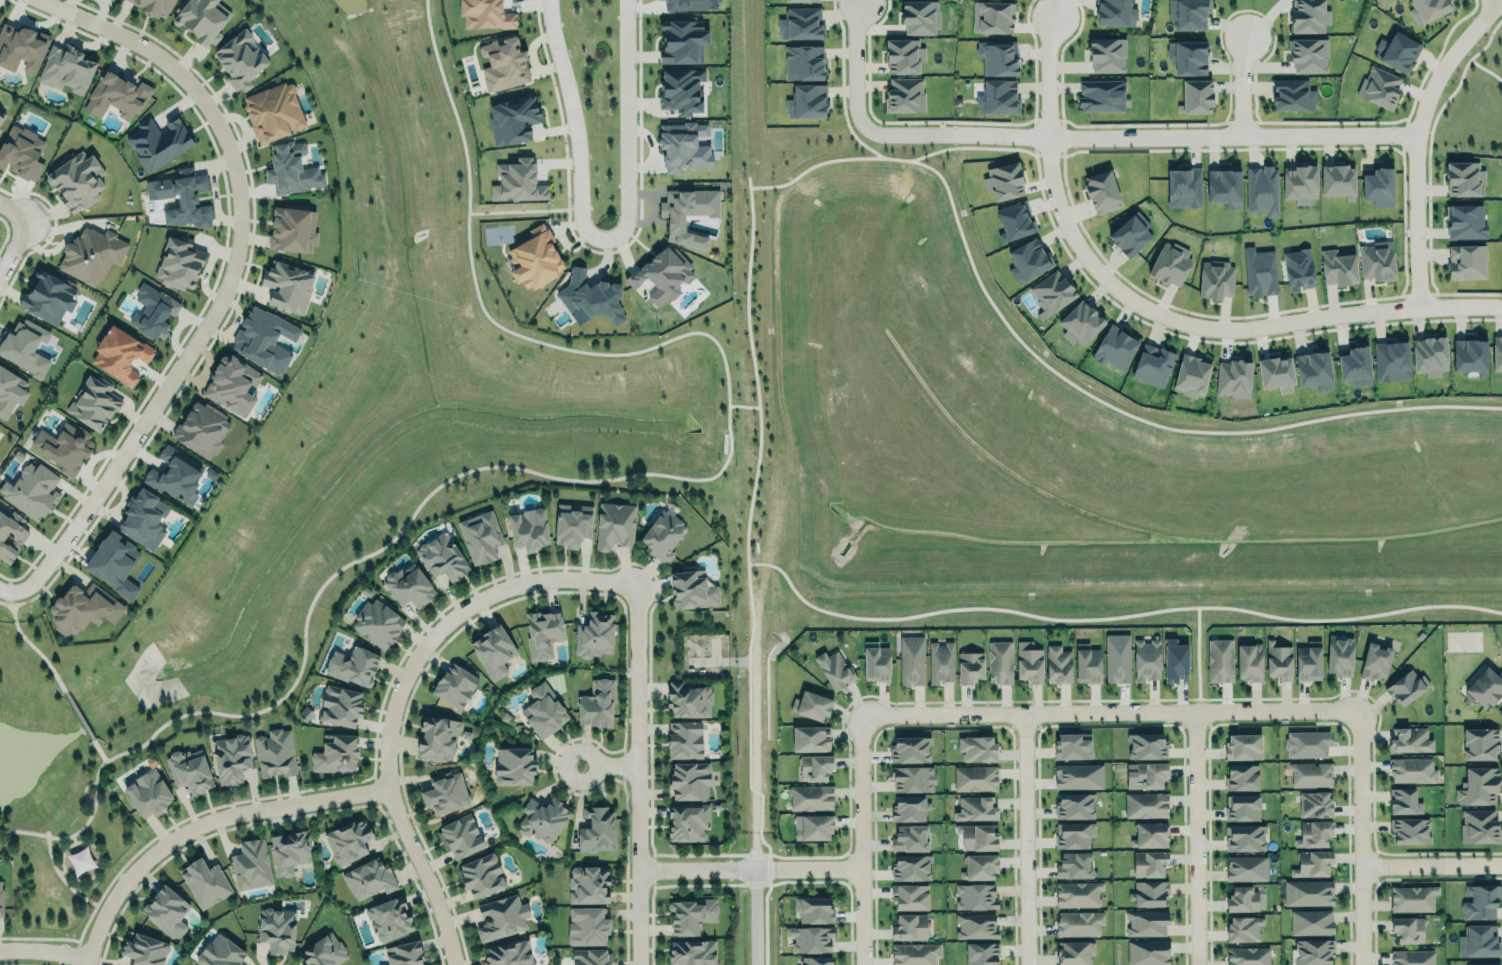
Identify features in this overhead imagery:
building: (797, 0)
building: (690, 4)
building: (155, 7)
building: (1428, 9)
building: (1116, 12)
building: (1188, 13)
building: (485, 14)
building: (1310, 15)
building: (920, 17)
building: (996, 17)
building: (201, 19)
building: (802, 23)
building: (682, 41)
building: (19, 45)
building: (1400, 52)
building: (1108, 54)
building: (904, 55)
building: (1308, 55)
building: (998, 57)
building: (1188, 57)
building: (240, 60)
building: (804, 63)
building: (503, 64)
road: (858, 66)
building: (67, 68)
road: (1053, 75)
road: (1245, 82)
building: (1380, 87)
building: (681, 90)
building: (906, 94)
building: (1293, 94)
building: (1102, 95)
building: (117, 96)
building: (1196, 96)
building: (998, 98)
building: (808, 101)
building: (274, 111)
building: (1, 117)
building: (512, 120)
road: (572, 122)
road: (624, 122)
road: (1139, 134)
road: (1415, 136)
building: (158, 142)
building: (683, 146)
building: (21, 153)
building: (291, 170)
building: (1464, 178)
building: (77, 180)
building: (1338, 180)
building: (517, 181)
building: (1003, 181)
building: (1299, 183)
building: (1379, 185)
building: (1225, 186)
building: (1184, 188)
building: (1263, 189)
building: (1102, 191)
building: (182, 197)
road: (11, 203)
road: (520, 209)
building: (687, 213)
building: (1014, 220)
building: (1465, 221)
building: (293, 229)
building: (1130, 235)
road: (11, 237)
building: (91, 252)
building: (535, 257)
building: (1029, 260)
building: (1378, 261)
building: (1467, 261)
building: (179, 263)
building: (1170, 263)
building: (1338, 266)
building: (1298, 268)
building: (1260, 272)
building: (662, 274)
road: (224, 275)
building: (1216, 279)
building: (288, 286)
building: (1053, 291)
building: (49, 296)
building: (590, 297)
building: (149, 310)
road: (1224, 318)
building: (1081, 323)
building: (265, 339)
building: (24, 347)
building: (1114, 348)
building: (1497, 353)
building: (121, 354)
building: (1430, 355)
building: (1469, 356)
building: (1391, 361)
building: (1154, 364)
building: (1355, 365)
building: (1314, 369)
building: (1193, 373)
building: (1277, 373)
building: (1234, 378)
building: (233, 384)
building: (10, 392)
building: (95, 403)
building: (201, 429)
building: (64, 447)
building: (175, 474)
road: (611, 478)
building: (32, 491)
building: (144, 519)
building: (573, 525)
building: (615, 525)
building: (528, 530)
building: (10, 535)
building: (662, 536)
building: (481, 537)
building: (442, 558)
building: (114, 561)
road: (4, 581)
building: (411, 588)
building: (693, 590)
road: (12, 601)
building: (84, 608)
building: (377, 623)
building: (542, 633)
building: (595, 635)
building: (493, 651)
building: (1340, 656)
building: (1118, 658)
building: (1146, 659)
building: (912, 660)
building: (1176, 660)
building: (1219, 660)
building: (941, 661)
building: (1278, 661)
building: (875, 662)
building: (1000, 662)
building: (1029, 662)
building: (1250, 662)
building: (1308, 662)
building: (1375, 662)
building: (1087, 664)
building: (1057, 665)
building: (353, 666)
building: (970, 667)
building: (835, 671)
building: (455, 685)
building: (1406, 686)
building: (1485, 687)
road: (62, 688)
road: (394, 688)
building: (689, 699)
building: (597, 703)
building: (814, 705)
building: (341, 706)
road: (1108, 710)
building: (544, 711)
building: (438, 737)
building: (810, 738)
building: (685, 740)
building: (1411, 740)
building: (1308, 743)
building: (1479, 744)
building: (1073, 746)
building: (1146, 746)
building: (1244, 747)
building: (910, 749)
building: (978, 749)
building: (274, 753)
building: (336, 754)
building: (230, 758)
road: (753, 758)
road: (606, 759)
building: (515, 767)
building: (815, 767)
building: (1411, 770)
building: (190, 771)
building: (1144, 773)
road: (635, 774)
building: (1311, 774)
building: (1078, 776)
building: (1242, 777)
building: (976, 778)
building: (913, 779)
building: (690, 781)
building: (1478, 787)
building: (148, 793)
building: (446, 793)
building: (811, 797)
building: (1403, 801)
building: (1315, 804)
building: (1146, 805)
building: (1074, 806)
building: (1243, 807)
building: (909, 808)
building: (976, 808)
building: (543, 818)
road: (198, 820)
building: (689, 821)
building: (1477, 826)
building: (816, 827)
building: (1410, 828)
building: (597, 830)
building: (1150, 834)
building: (1314, 834)
building: (1074, 835)
building: (462, 836)
road: (1355, 836)
road: (1199, 837)
building: (1245, 837)
road: (862, 838)
building: (910, 838)
building: (977, 838)
road: (1024, 838)
building: (348, 840)
building: (289, 851)
building: (80, 860)
road: (1429, 862)
building: (1149, 863)
building: (1313, 863)
building: (251, 864)
building: (1074, 865)
road: (750, 867)
building: (910, 867)
building: (980, 867)
building: (1247, 868)
building: (481, 875)
building: (369, 878)
road: (64, 880)
building: (206, 883)
building: (588, 885)
building: (1308, 892)
building: (1079, 893)
building: (1150, 893)
building: (976, 896)
building: (910, 897)
building: (1410, 897)
building: (1242, 899)
building: (1, 900)
building: (1481, 901)
building: (814, 910)
building: (166, 911)
building: (690, 915)
road: (753, 916)
building: (502, 917)
building: (390, 919)
building: (1312, 921)
building: (1080, 923)
building: (1146, 923)
building: (976, 925)
building: (587, 926)
building: (910, 927)
building: (1243, 928)
building: (277, 929)
building: (1408, 929)
building: (810, 939)
building: (1480, 942)
road: (42, 948)
building: (146, 951)
building: (1312, 951)
building: (324, 952)
building: (693, 952)
building: (1076, 952)
building: (1148, 952)
building: (220, 953)
building: (508, 953)
building: (981, 953)
building: (404, 954)
building: (914, 954)
building: (1248, 956)
building: (592, 957)
building: (1412, 957)
building: (816, 961)
building: (1489, 964)

